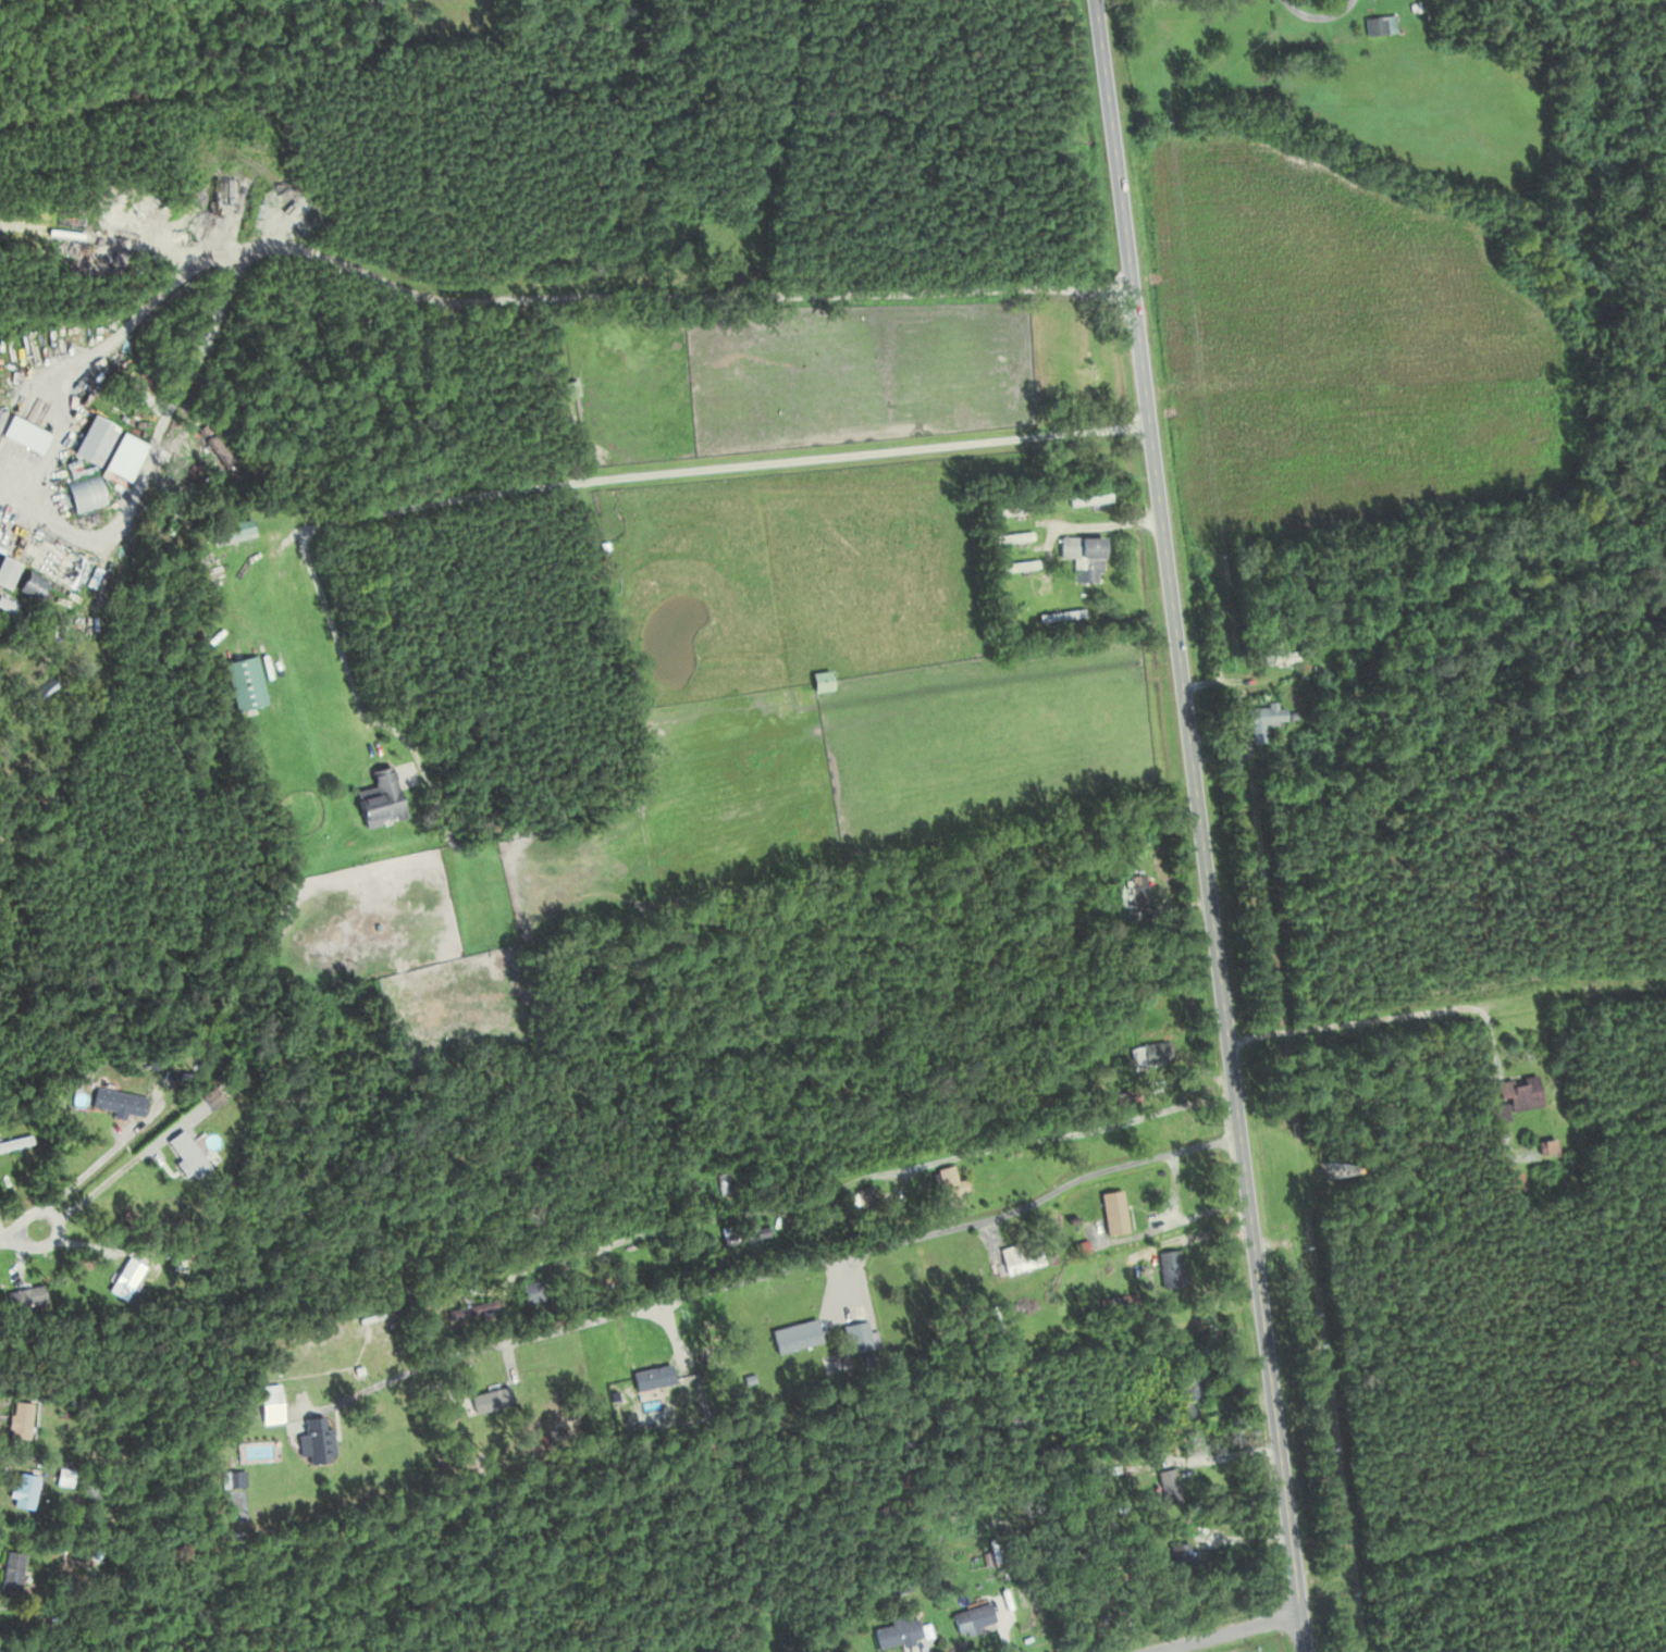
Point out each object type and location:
building: (1380, 25)
building: (1086, 377)
building: (569, 389)
building: (88, 442)
road: (624, 475)
building: (1087, 498)
building: (1008, 509)
road: (1077, 525)
building: (227, 533)
building: (1011, 535)
building: (1081, 556)
building: (1015, 564)
building: (3, 571)
building: (23, 586)
building: (1279, 657)
building: (818, 680)
building: (240, 681)
building: (1255, 720)
building: (375, 797)
road: (1200, 825)
building: (1136, 890)
building: (1153, 1053)
building: (1514, 1094)
building: (114, 1102)
building: (13, 1141)
building: (1544, 1147)
building: (182, 1153)
building: (1515, 1180)
building: (861, 1193)
building: (951, 1200)
building: (1174, 1201)
building: (1111, 1210)
road: (20, 1231)
building: (743, 1231)
building: (1023, 1256)
building: (1167, 1266)
road: (774, 1271)
building: (131, 1280)
building: (22, 1296)
building: (471, 1308)
building: (855, 1334)
building: (791, 1336)
building: (488, 1399)
building: (1185, 1400)
building: (15, 1421)
building: (310, 1437)
building: (230, 1478)
building: (1163, 1485)
building: (20, 1490)
building: (1177, 1556)
building: (9, 1570)
building: (971, 1617)
building: (894, 1631)
road: (1222, 1631)

